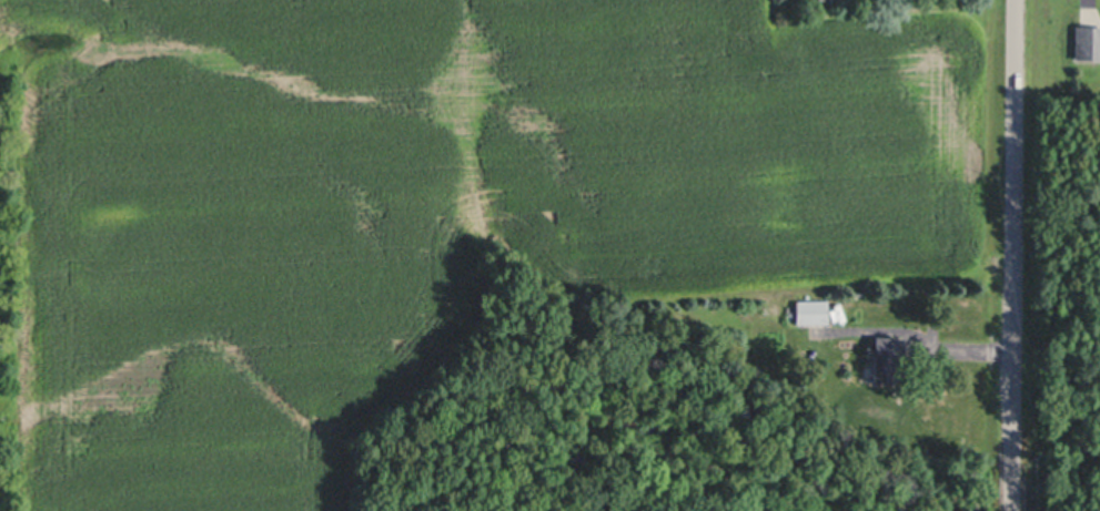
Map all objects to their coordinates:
road: (1086, 1)
building: (1089, 42)
road: (1012, 224)
building: (841, 307)
building: (814, 310)
building: (888, 355)
road: (1011, 479)
river: (1037, 490)

